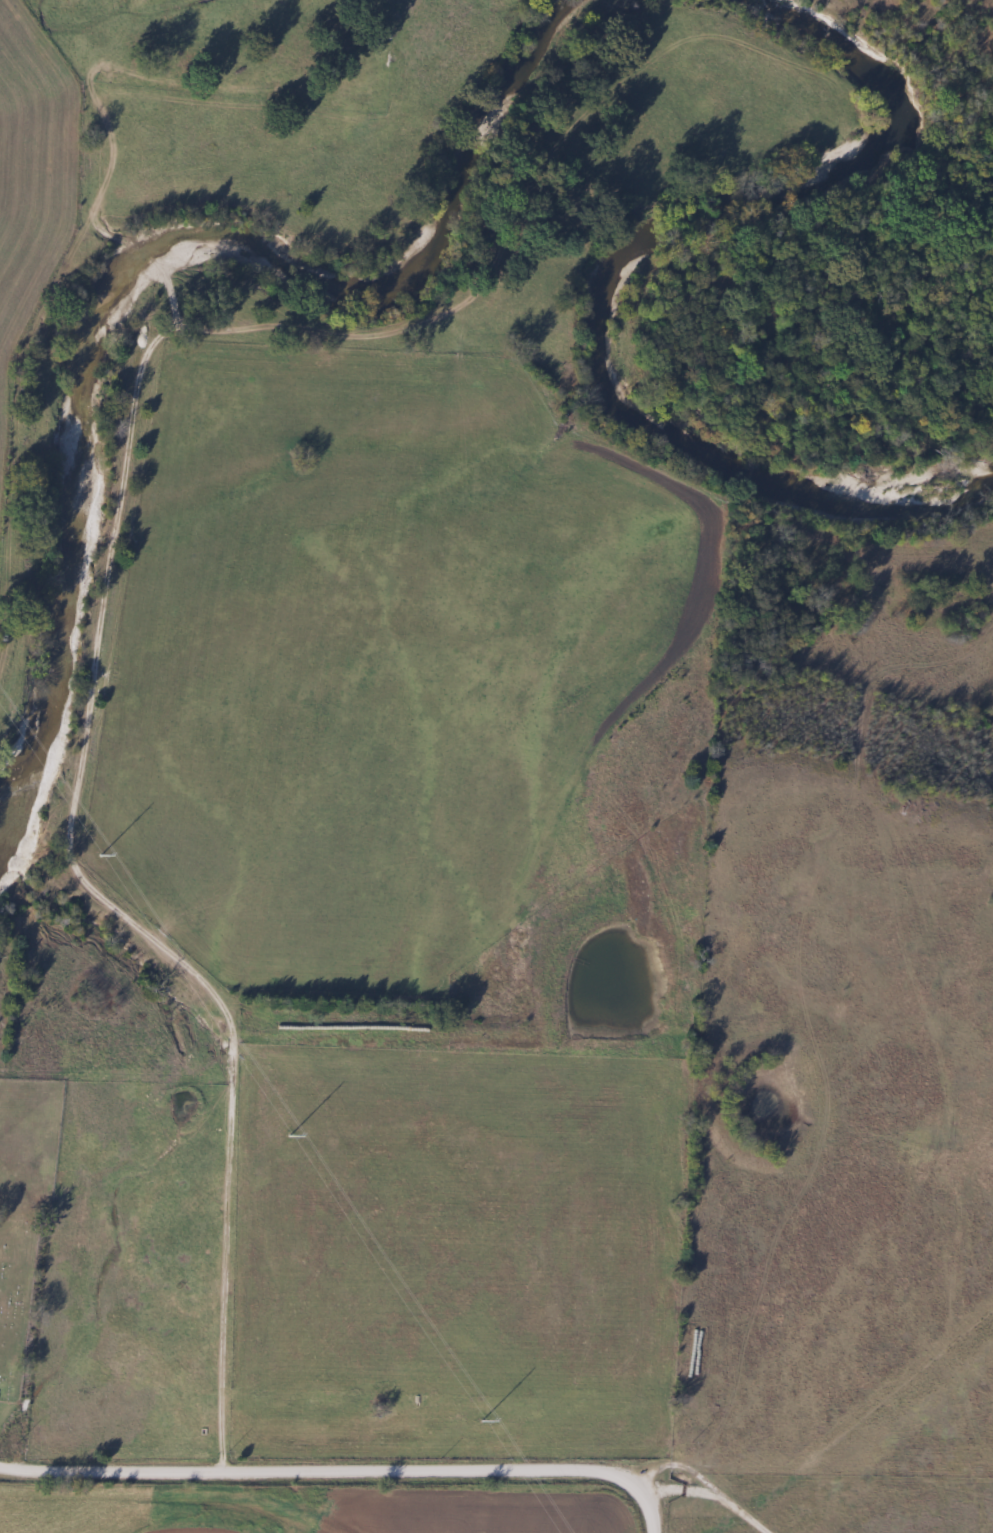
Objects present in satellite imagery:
river: (139, 257)
river: (609, 276)
park: (18, 1301)
road: (345, 1467)
road: (707, 1482)

